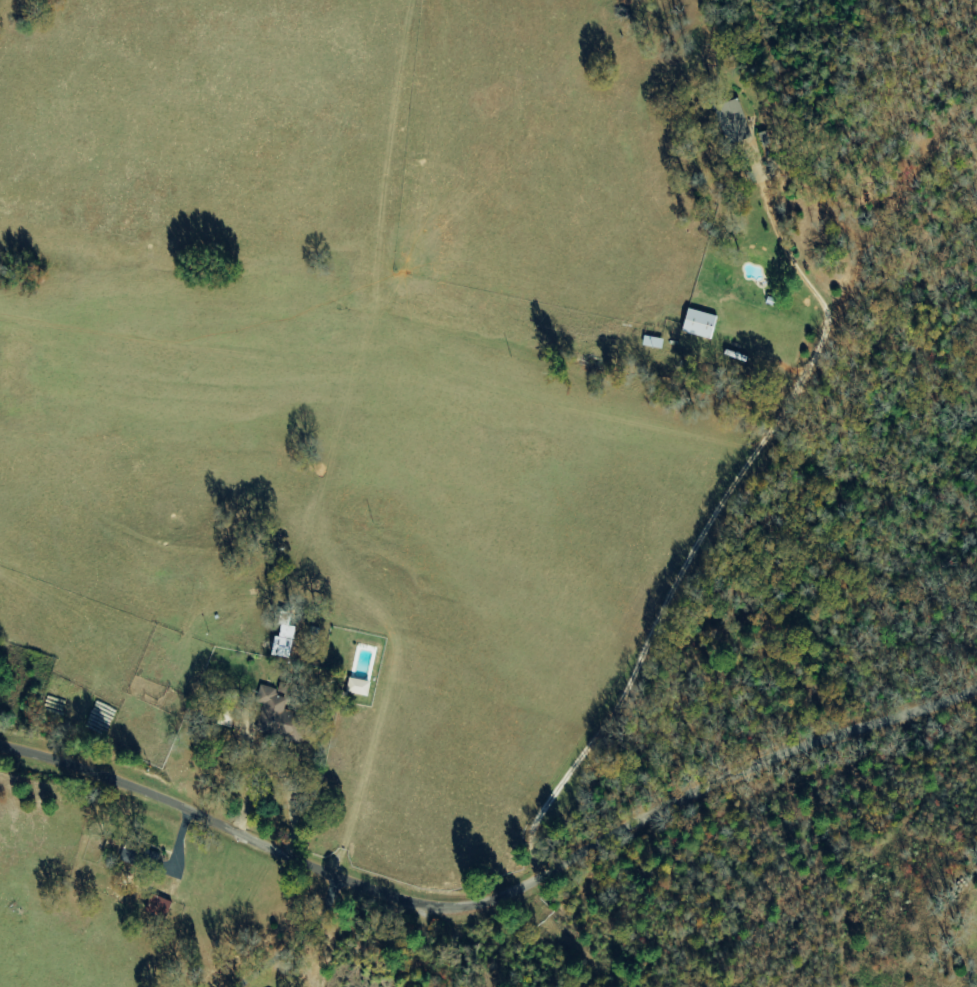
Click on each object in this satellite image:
building: (703, 324)
building: (361, 687)
building: (280, 704)
building: (138, 855)
road: (495, 896)

